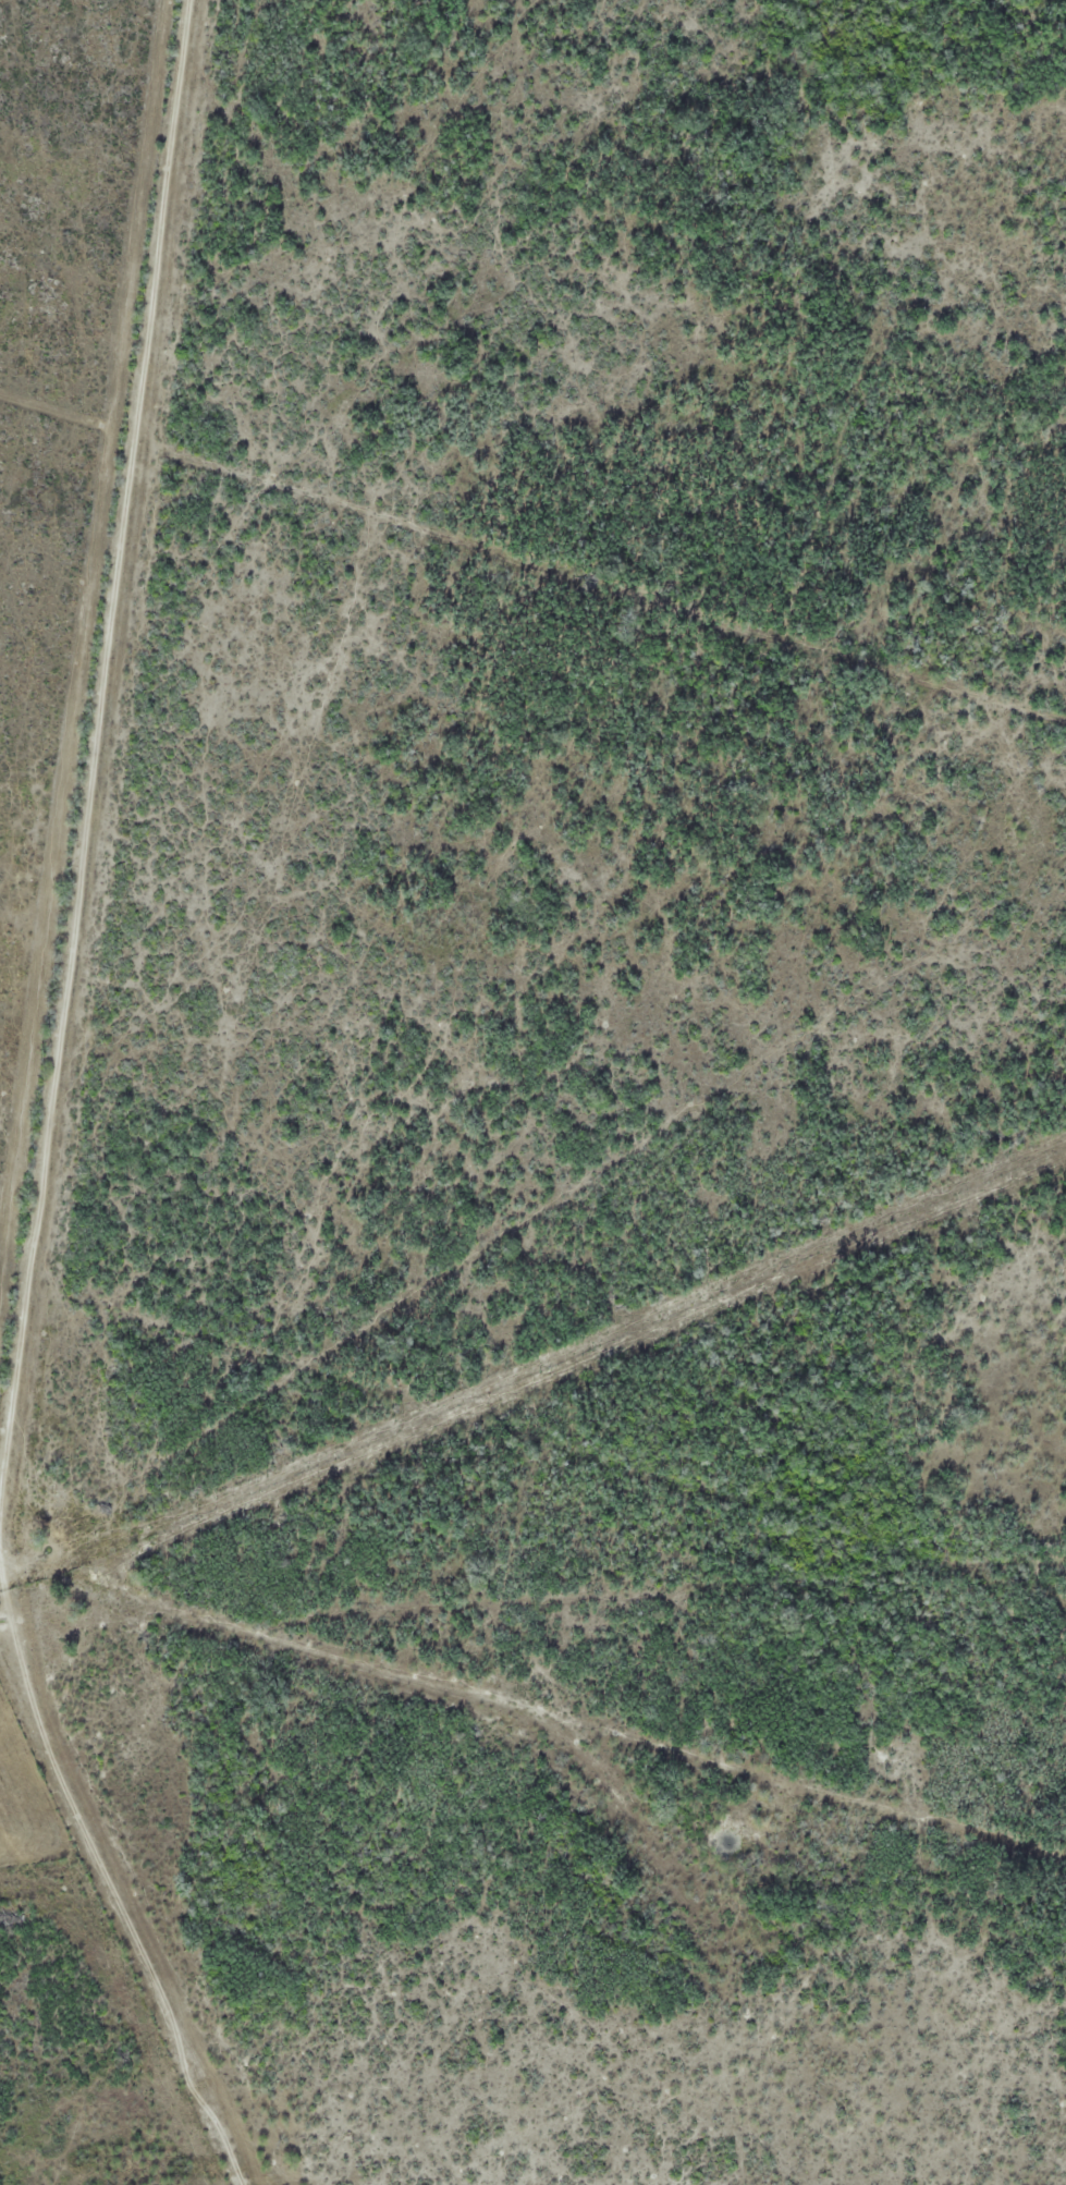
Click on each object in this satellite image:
road: (95, 790)
road: (95, 1962)

